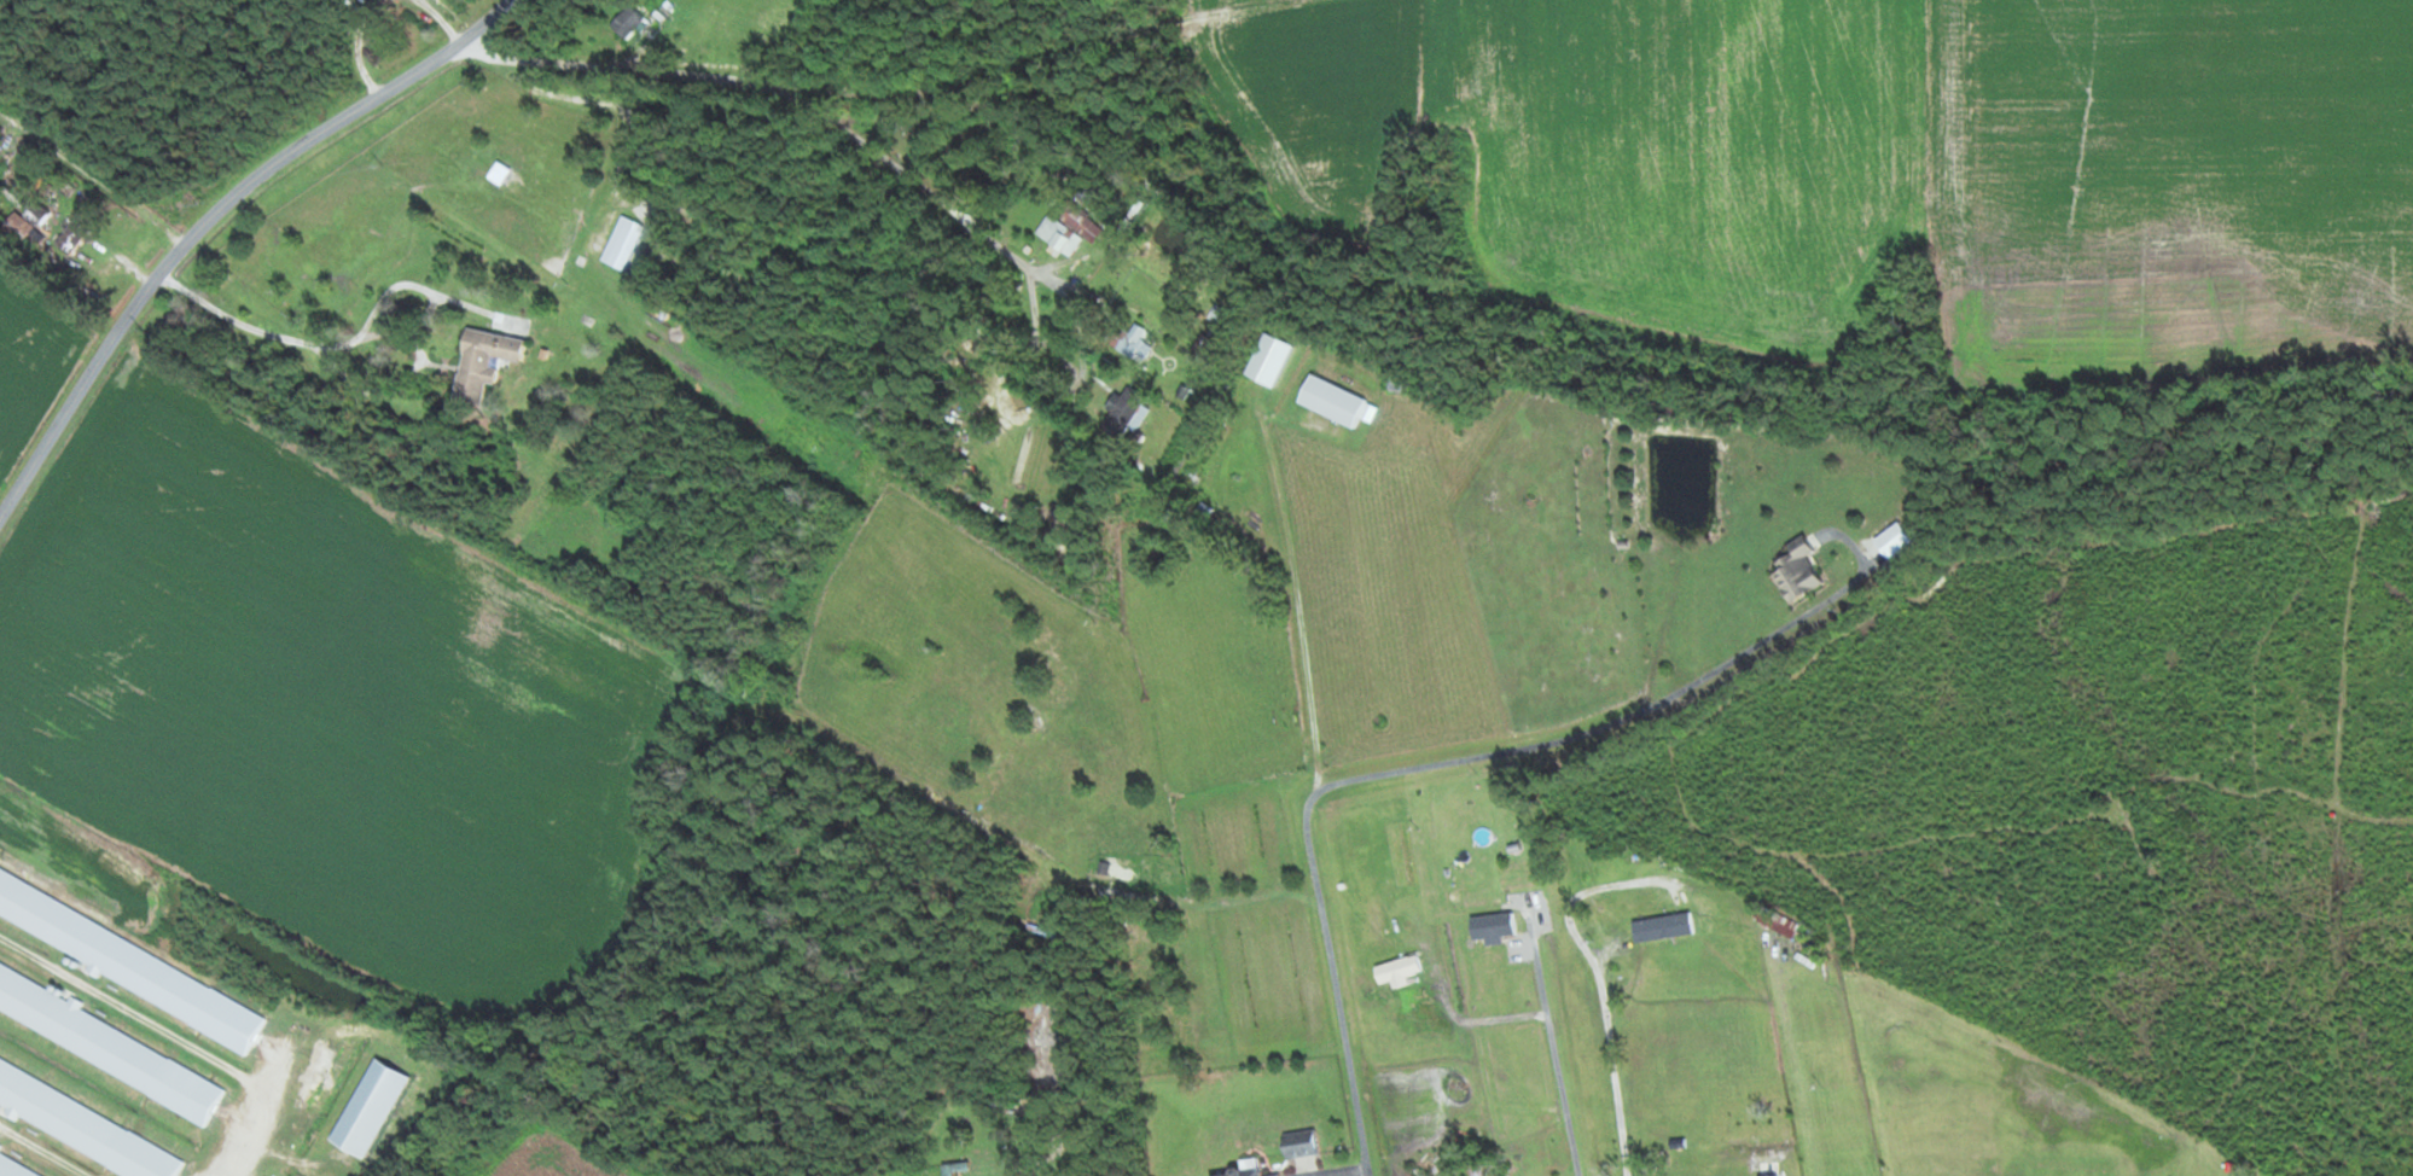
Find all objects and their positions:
building: (438, 0)
building: (628, 19)
road: (781, 97)
building: (500, 171)
road: (91, 188)
building: (1092, 191)
building: (37, 211)
road: (209, 219)
building: (1075, 226)
building: (75, 233)
building: (622, 240)
building: (1132, 339)
building: (1213, 344)
building: (1271, 357)
building: (485, 360)
building: (1399, 383)
building: (1128, 411)
building: (1801, 569)
building: (1779, 921)
building: (1494, 926)
building: (1665, 926)
building: (128, 961)
building: (107, 1043)
building: (374, 1106)
building: (83, 1124)
building: (1303, 1142)
building: (14, 1166)
building: (955, 1168)
building: (1249, 1168)

